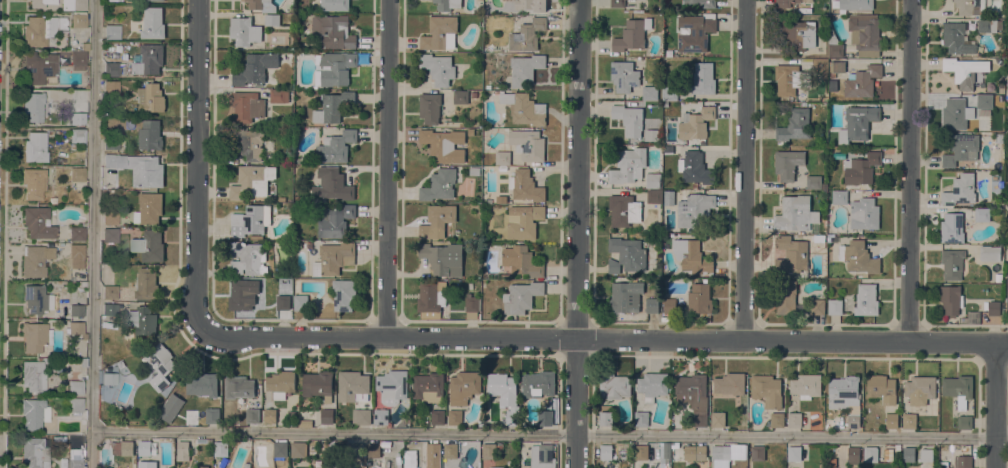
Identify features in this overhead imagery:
building: (115, 0)
building: (157, 0)
building: (40, 3)
building: (617, 3)
building: (701, 3)
building: (784, 3)
building: (73, 4)
building: (447, 4)
building: (856, 4)
building: (262, 5)
building: (335, 5)
building: (531, 5)
building: (970, 7)
building: (314, 9)
building: (78, 19)
building: (272, 19)
building: (153, 23)
building: (987, 25)
building: (38, 30)
building: (244, 31)
building: (333, 31)
building: (111, 32)
building: (439, 33)
building: (798, 33)
building: (527, 34)
building: (632, 34)
building: (696, 34)
building: (865, 36)
building: (956, 38)
building: (834, 45)
building: (84, 46)
building: (149, 59)
building: (77, 60)
building: (837, 66)
building: (334, 67)
building: (821, 67)
building: (40, 68)
building: (255, 68)
building: (438, 68)
building: (525, 68)
building: (113, 69)
building: (961, 71)
building: (624, 75)
building: (830, 76)
building: (703, 78)
building: (788, 78)
building: (862, 81)
building: (111, 86)
building: (831, 89)
building: (315, 91)
building: (649, 92)
building: (669, 93)
building: (473, 94)
building: (279, 95)
building: (151, 97)
building: (460, 97)
building: (984, 101)
building: (33, 106)
building: (247, 106)
building: (334, 106)
building: (429, 107)
building: (524, 108)
building: (956, 114)
building: (77, 118)
building: (629, 119)
building: (695, 123)
building: (857, 124)
building: (795, 125)
building: (648, 129)
building: (150, 135)
building: (77, 136)
building: (999, 137)
building: (249, 142)
building: (110, 143)
building: (528, 144)
building: (444, 145)
building: (336, 146)
building: (35, 147)
building: (668, 149)
building: (961, 149)
building: (503, 157)
building: (788, 163)
building: (628, 165)
road: (197, 167)
building: (139, 168)
road: (389, 168)
building: (695, 168)
building: (861, 168)
road: (744, 170)
road: (910, 170)
building: (475, 171)
building: (77, 174)
building: (252, 180)
building: (653, 180)
building: (813, 181)
building: (32, 183)
building: (332, 183)
building: (439, 185)
building: (695, 185)
building: (526, 186)
building: (960, 190)
building: (654, 195)
building: (839, 197)
building: (52, 200)
building: (149, 208)
building: (624, 210)
building: (694, 210)
building: (795, 213)
building: (864, 213)
building: (982, 214)
building: (110, 217)
building: (524, 220)
building: (248, 221)
building: (437, 221)
building: (336, 222)
building: (38, 223)
building: (952, 227)
road: (4, 234)
building: (76, 234)
road: (93, 234)
road: (577, 234)
building: (110, 235)
building: (651, 236)
building: (819, 238)
building: (309, 245)
building: (149, 246)
building: (990, 253)
building: (626, 254)
building: (792, 254)
building: (76, 255)
building: (691, 255)
building: (858, 256)
building: (247, 258)
building: (334, 258)
building: (443, 258)
building: (34, 260)
building: (521, 261)
building: (952, 263)
building: (505, 275)
building: (998, 277)
building: (146, 283)
building: (1007, 291)
building: (109, 292)
building: (344, 294)
building: (239, 295)
building: (521, 296)
building: (625, 296)
building: (784, 296)
building: (699, 298)
building: (36, 299)
building: (428, 299)
building: (866, 299)
building: (951, 299)
building: (283, 302)
building: (301, 302)
building: (652, 305)
building: (669, 305)
building: (472, 306)
building: (817, 306)
building: (834, 306)
building: (994, 308)
building: (109, 309)
building: (75, 310)
building: (971, 318)
building: (142, 319)
building: (75, 329)
building: (33, 336)
road: (604, 339)
building: (159, 361)
building: (82, 362)
building: (34, 375)
building: (108, 378)
building: (393, 382)
building: (281, 383)
building: (730, 383)
building: (203, 384)
building: (318, 384)
building: (352, 384)
building: (538, 384)
building: (653, 385)
building: (806, 385)
building: (464, 386)
building: (614, 386)
building: (75, 387)
building: (239, 387)
building: (428, 387)
building: (882, 389)
building: (920, 389)
building: (959, 389)
building: (767, 390)
building: (505, 394)
building: (694, 397)
building: (845, 397)
building: (75, 404)
road: (995, 405)
building: (33, 414)
building: (212, 415)
building: (252, 415)
building: (326, 415)
building: (270, 416)
building: (361, 416)
building: (381, 416)
building: (437, 416)
building: (454, 416)
building: (546, 417)
building: (606, 418)
building: (641, 418)
building: (718, 419)
building: (777, 419)
building: (794, 419)
building: (892, 420)
building: (909, 420)
building: (305, 422)
building: (964, 422)
road: (550, 433)
building: (675, 444)
building: (122, 447)
building: (897, 447)
building: (146, 448)
building: (182, 448)
building: (221, 448)
building: (500, 448)
building: (280, 449)
building: (298, 449)
building: (356, 449)
building: (452, 449)
building: (374, 450)
building: (433, 450)
building: (489, 451)
road: (557, 451)
road: (589, 451)
building: (597, 451)
building: (605, 451)
building: (641, 451)
building: (33, 452)
building: (694, 452)
building: (717, 452)
building: (758, 452)
road: (976, 452)
building: (794, 453)
building: (853, 453)
building: (877, 454)
building: (909, 454)
building: (664, 455)
building: (544, 457)
building: (963, 461)
building: (74, 462)
building: (147, 464)
building: (343, 465)
building: (203, 466)
building: (526, 466)
building: (106, 467)
building: (301, 467)
building: (384, 467)
building: (494, 467)

